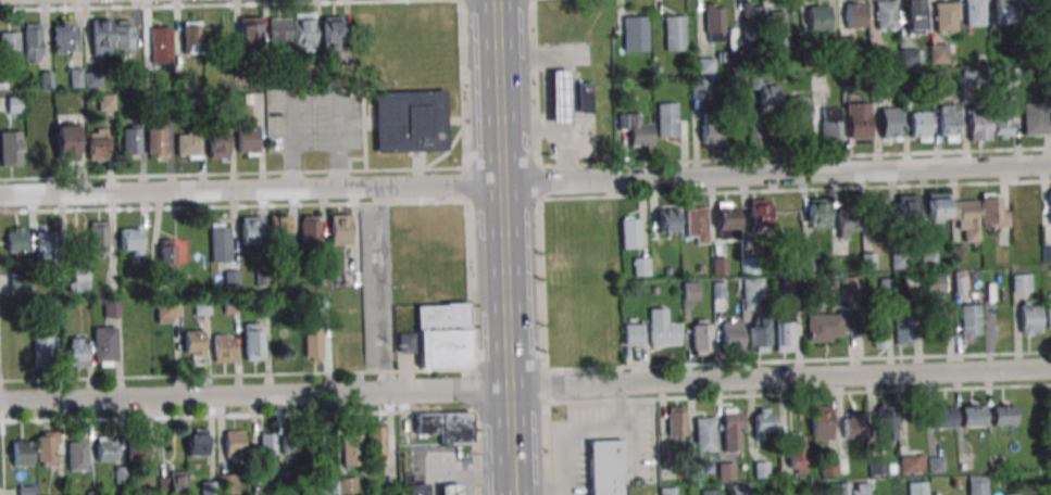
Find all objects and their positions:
building: (1003, 10)
building: (974, 13)
building: (854, 14)
building: (886, 15)
building: (914, 16)
building: (818, 17)
building: (946, 17)
building: (751, 20)
building: (714, 22)
building: (777, 30)
building: (250, 31)
building: (303, 31)
building: (279, 33)
building: (333, 33)
building: (675, 33)
building: (635, 34)
building: (64, 36)
building: (123, 36)
building: (190, 37)
building: (100, 38)
building: (32, 43)
building: (9, 45)
building: (160, 45)
building: (938, 53)
building: (909, 55)
road: (572, 82)
road: (546, 93)
building: (768, 97)
building: (583, 99)
building: (559, 100)
building: (13, 104)
building: (799, 109)
building: (666, 119)
building: (1035, 119)
building: (859, 120)
building: (1003, 120)
building: (949, 123)
building: (411, 124)
building: (830, 124)
building: (889, 124)
building: (978, 125)
building: (919, 126)
road: (537, 129)
building: (635, 129)
building: (712, 134)
building: (247, 139)
building: (130, 140)
building: (65, 142)
building: (155, 142)
building: (96, 143)
building: (217, 143)
building: (188, 144)
building: (36, 147)
building: (10, 149)
road: (525, 182)
building: (936, 207)
building: (906, 208)
building: (877, 212)
building: (993, 212)
building: (758, 213)
building: (817, 213)
building: (727, 216)
building: (667, 219)
building: (966, 219)
building: (848, 223)
road: (504, 225)
building: (697, 225)
building: (340, 228)
building: (279, 229)
building: (310, 229)
building: (250, 230)
building: (630, 231)
building: (16, 239)
building: (98, 239)
building: (130, 240)
building: (221, 241)
building: (46, 245)
building: (1047, 254)
building: (167, 259)
building: (641, 266)
building: (718, 266)
building: (77, 277)
building: (1021, 282)
building: (849, 285)
building: (929, 287)
road: (383, 288)
building: (690, 292)
building: (752, 294)
building: (112, 307)
building: (167, 309)
building: (1048, 310)
building: (969, 319)
building: (1029, 319)
building: (827, 327)
building: (902, 330)
building: (784, 331)
building: (878, 332)
building: (664, 333)
building: (634, 334)
building: (759, 334)
building: (439, 335)
building: (731, 335)
building: (702, 337)
building: (253, 341)
building: (193, 344)
building: (313, 345)
building: (93, 348)
building: (42, 350)
building: (224, 350)
road: (525, 388)
building: (1003, 415)
building: (973, 416)
building: (942, 417)
building: (676, 421)
building: (819, 422)
building: (764, 423)
building: (851, 424)
building: (442, 427)
building: (885, 428)
building: (733, 429)
road: (580, 431)
building: (704, 434)
building: (198, 442)
building: (267, 443)
building: (376, 443)
building: (234, 444)
building: (290, 447)
building: (107, 448)
building: (352, 449)
building: (46, 450)
building: (137, 452)
building: (22, 453)
building: (76, 454)
building: (796, 454)
building: (911, 464)
building: (604, 468)
road: (512, 470)
building: (172, 483)
building: (228, 483)
building: (977, 485)
building: (850, 488)
building: (916, 488)
building: (26, 491)
building: (414, 491)
building: (450, 491)
building: (667, 491)
road: (513, 492)
road: (538, 492)

